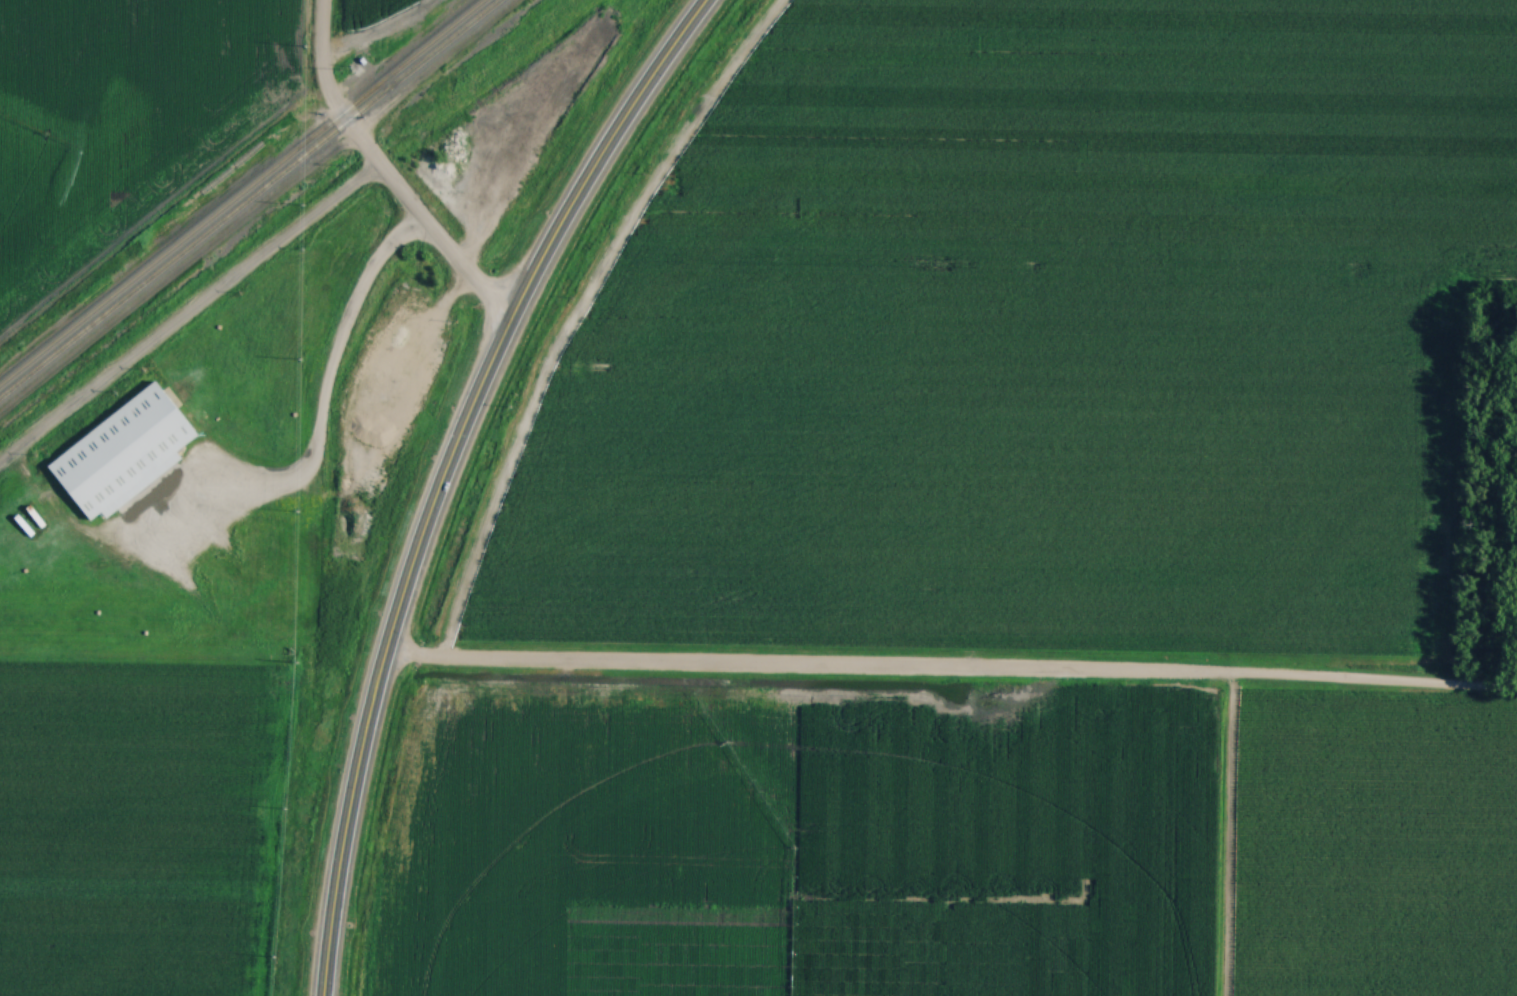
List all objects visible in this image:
road: (382, 172)
railway: (241, 192)
railway: (249, 198)
road: (188, 316)
building: (124, 453)
road: (443, 471)
road: (273, 487)
road: (949, 670)

